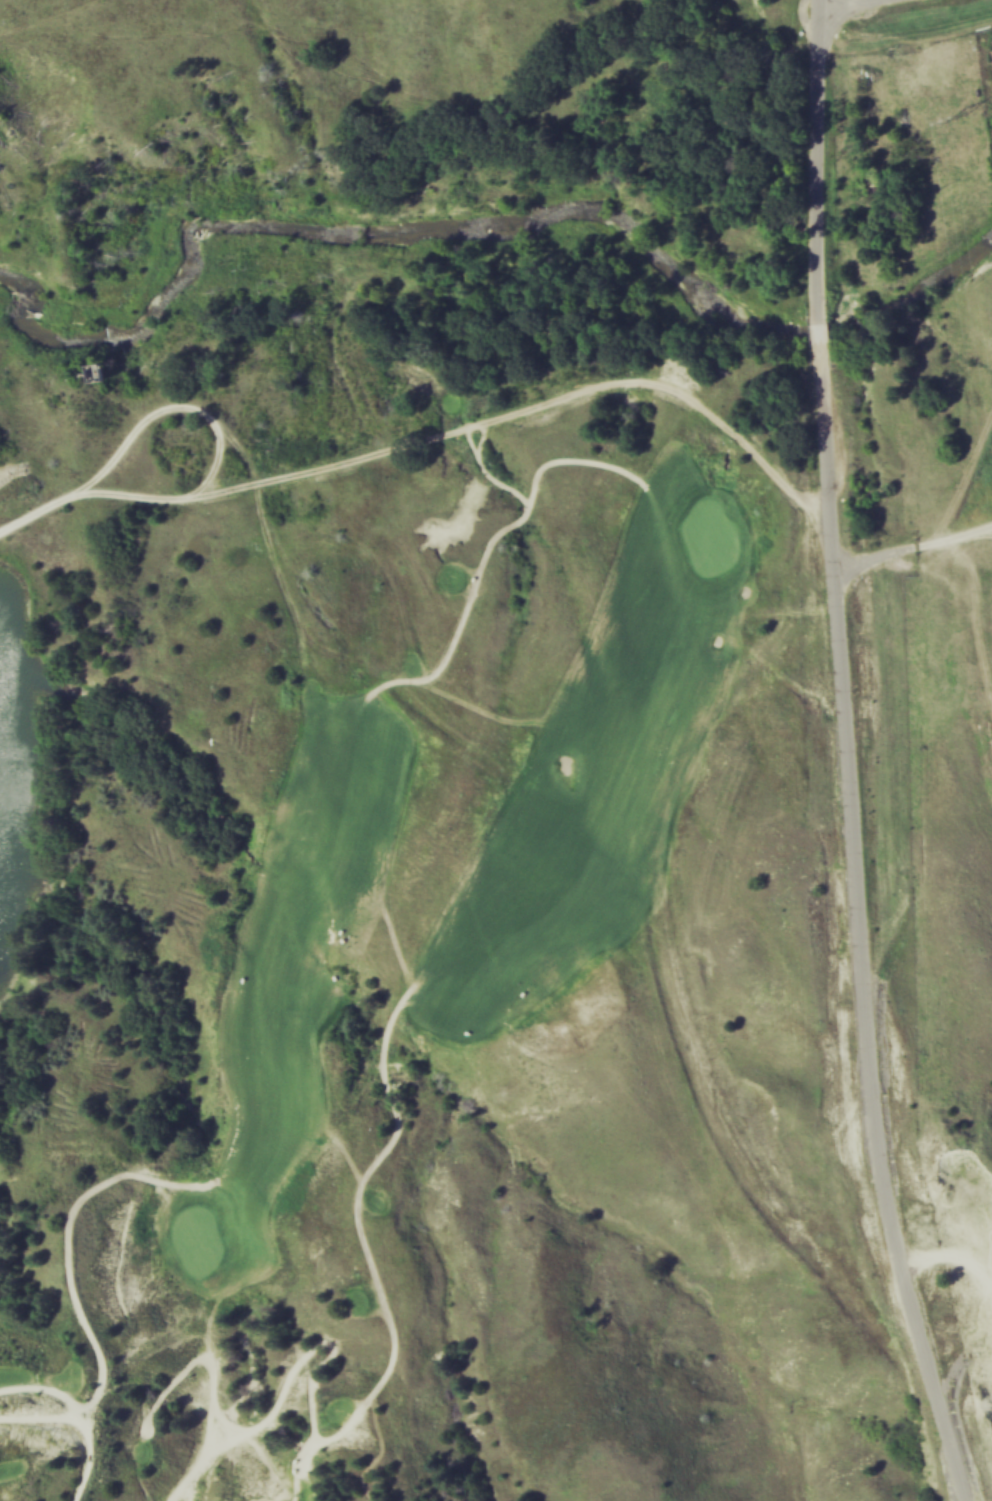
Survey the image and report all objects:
road: (849, 5)
power tower: (960, 119)
road: (822, 148)
road: (823, 327)
road: (216, 434)
road: (35, 514)
road: (915, 549)
road: (864, 934)

